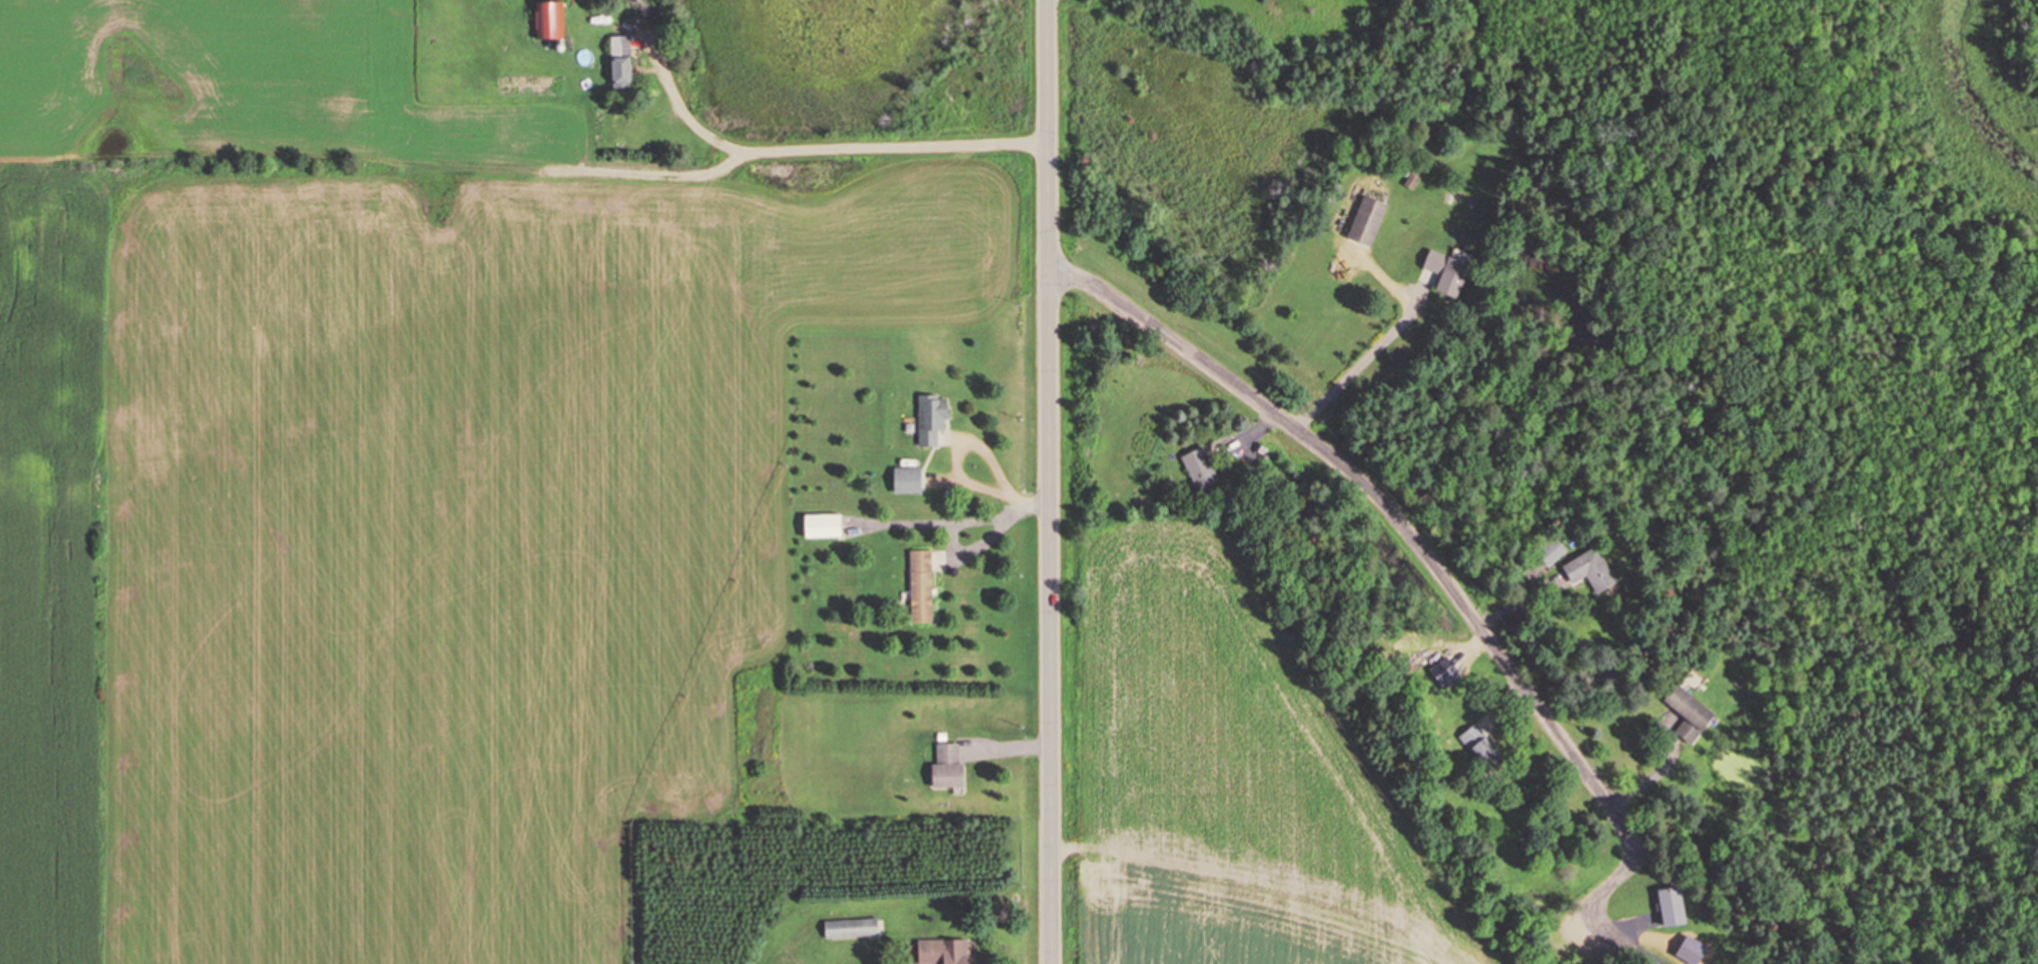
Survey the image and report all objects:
building: (648, 9)
building: (547, 19)
building: (618, 60)
road: (912, 147)
building: (1365, 220)
building: (1445, 271)
road: (464, 318)
building: (930, 417)
building: (1198, 467)
building: (905, 479)
road: (1049, 481)
building: (820, 525)
building: (1551, 552)
building: (1589, 570)
road: (1441, 574)
building: (919, 585)
building: (1687, 713)
building: (1478, 746)
building: (945, 765)
building: (1670, 906)
building: (849, 928)
building: (940, 951)

